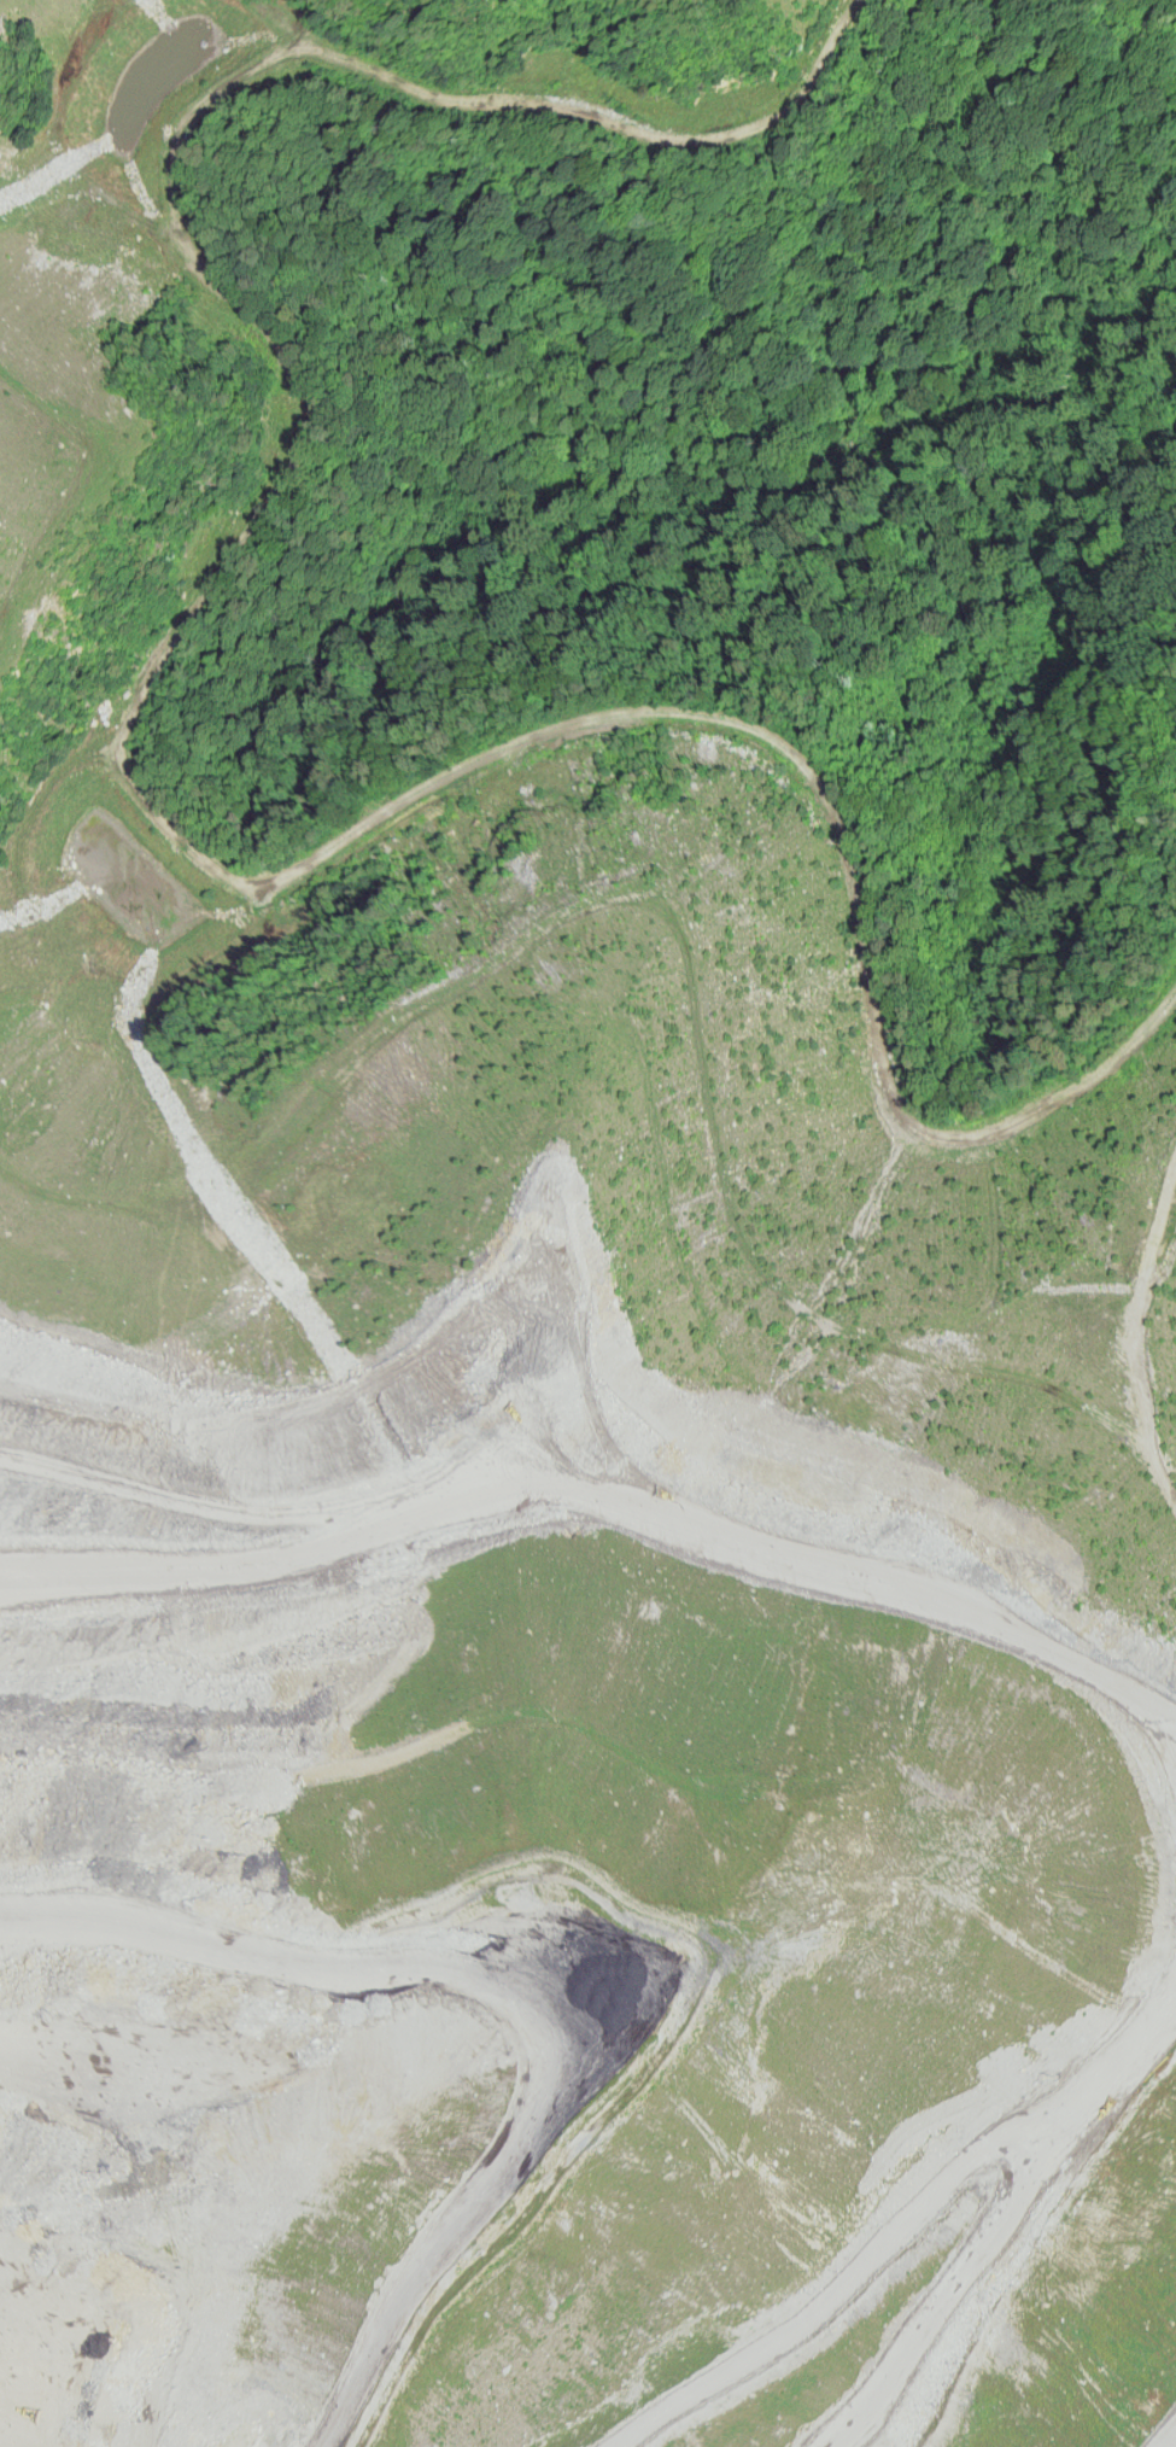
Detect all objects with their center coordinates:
quarry: (533, 1502)

